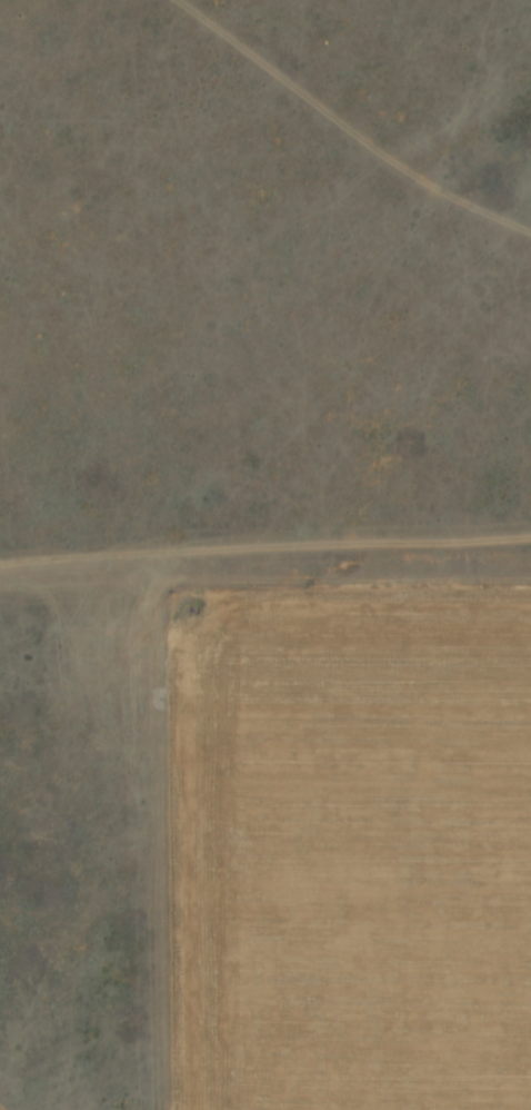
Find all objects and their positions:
road: (424, 67)
road: (158, 301)
road: (140, 667)

